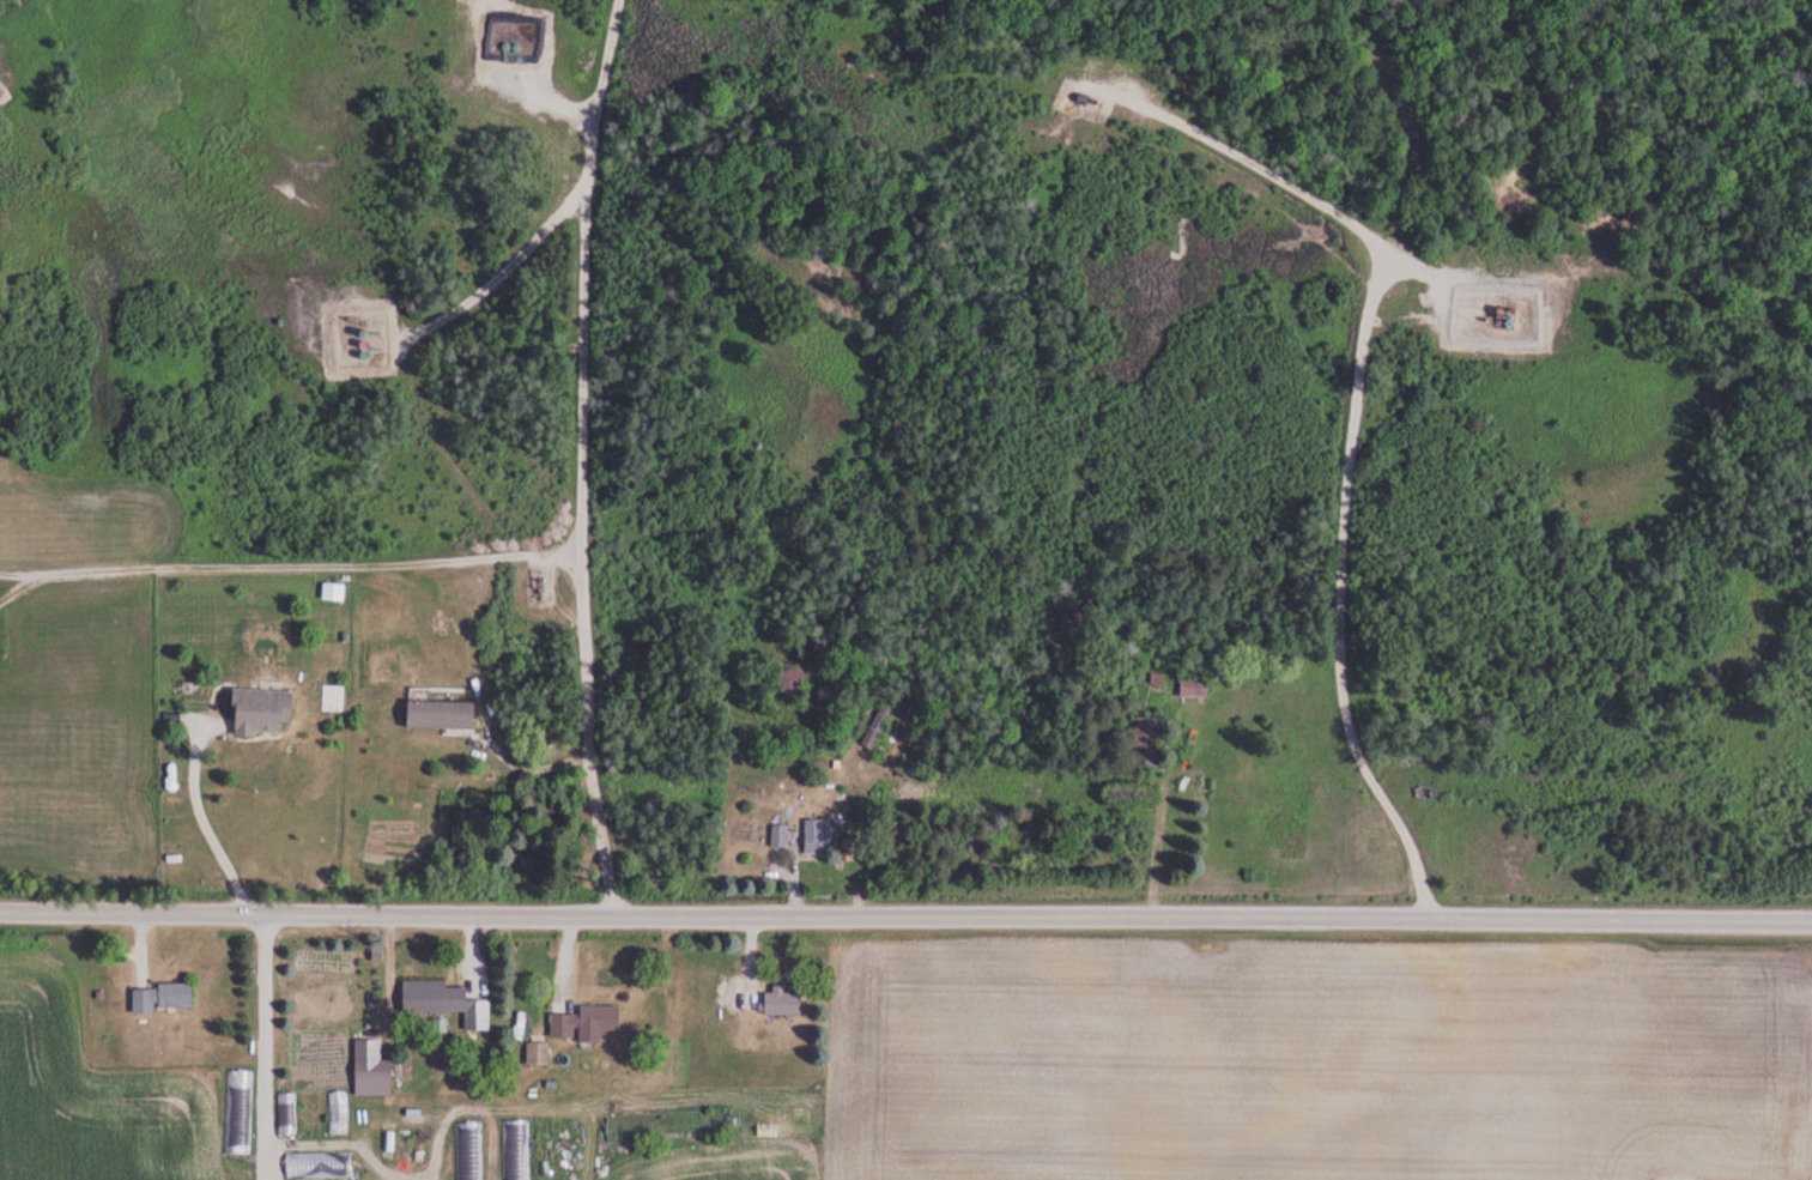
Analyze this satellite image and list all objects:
building: (496, 41)
petroleum well: (1084, 97)
building: (1085, 99)
road: (584, 332)
road: (487, 428)
road: (1351, 462)
road: (299, 557)
building: (334, 592)
petroleum well: (541, 592)
building: (790, 682)
building: (1194, 688)
building: (261, 712)
building: (441, 714)
building: (878, 726)
building: (1147, 742)
road: (216, 822)
building: (461, 834)
building: (817, 835)
building: (780, 836)
road: (905, 918)
building: (331, 979)
building: (162, 998)
building: (446, 1002)
building: (783, 1003)
building: (588, 1023)
road: (263, 1046)
building: (538, 1053)
building: (372, 1070)
building: (240, 1113)
building: (339, 1113)
building: (289, 1114)
building: (313, 1114)
building: (469, 1151)
building: (320, 1166)

